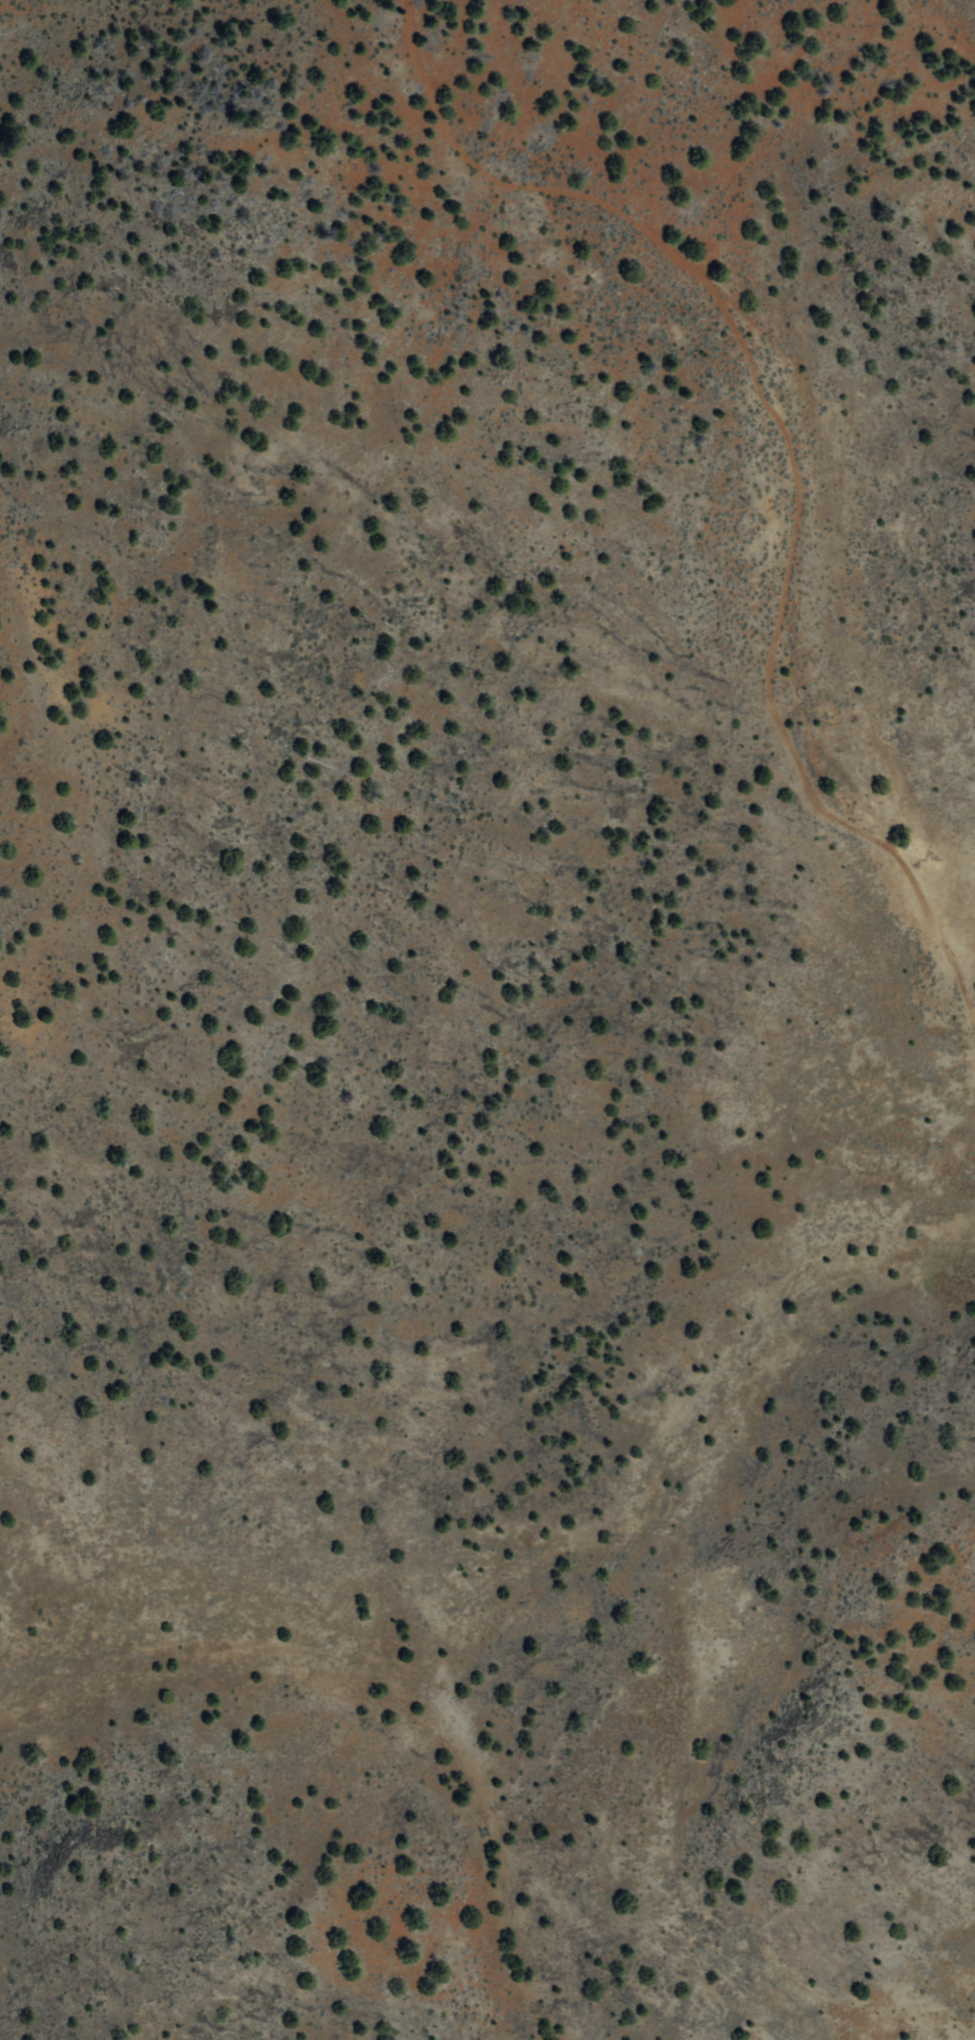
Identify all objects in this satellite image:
road: (793, 450)

